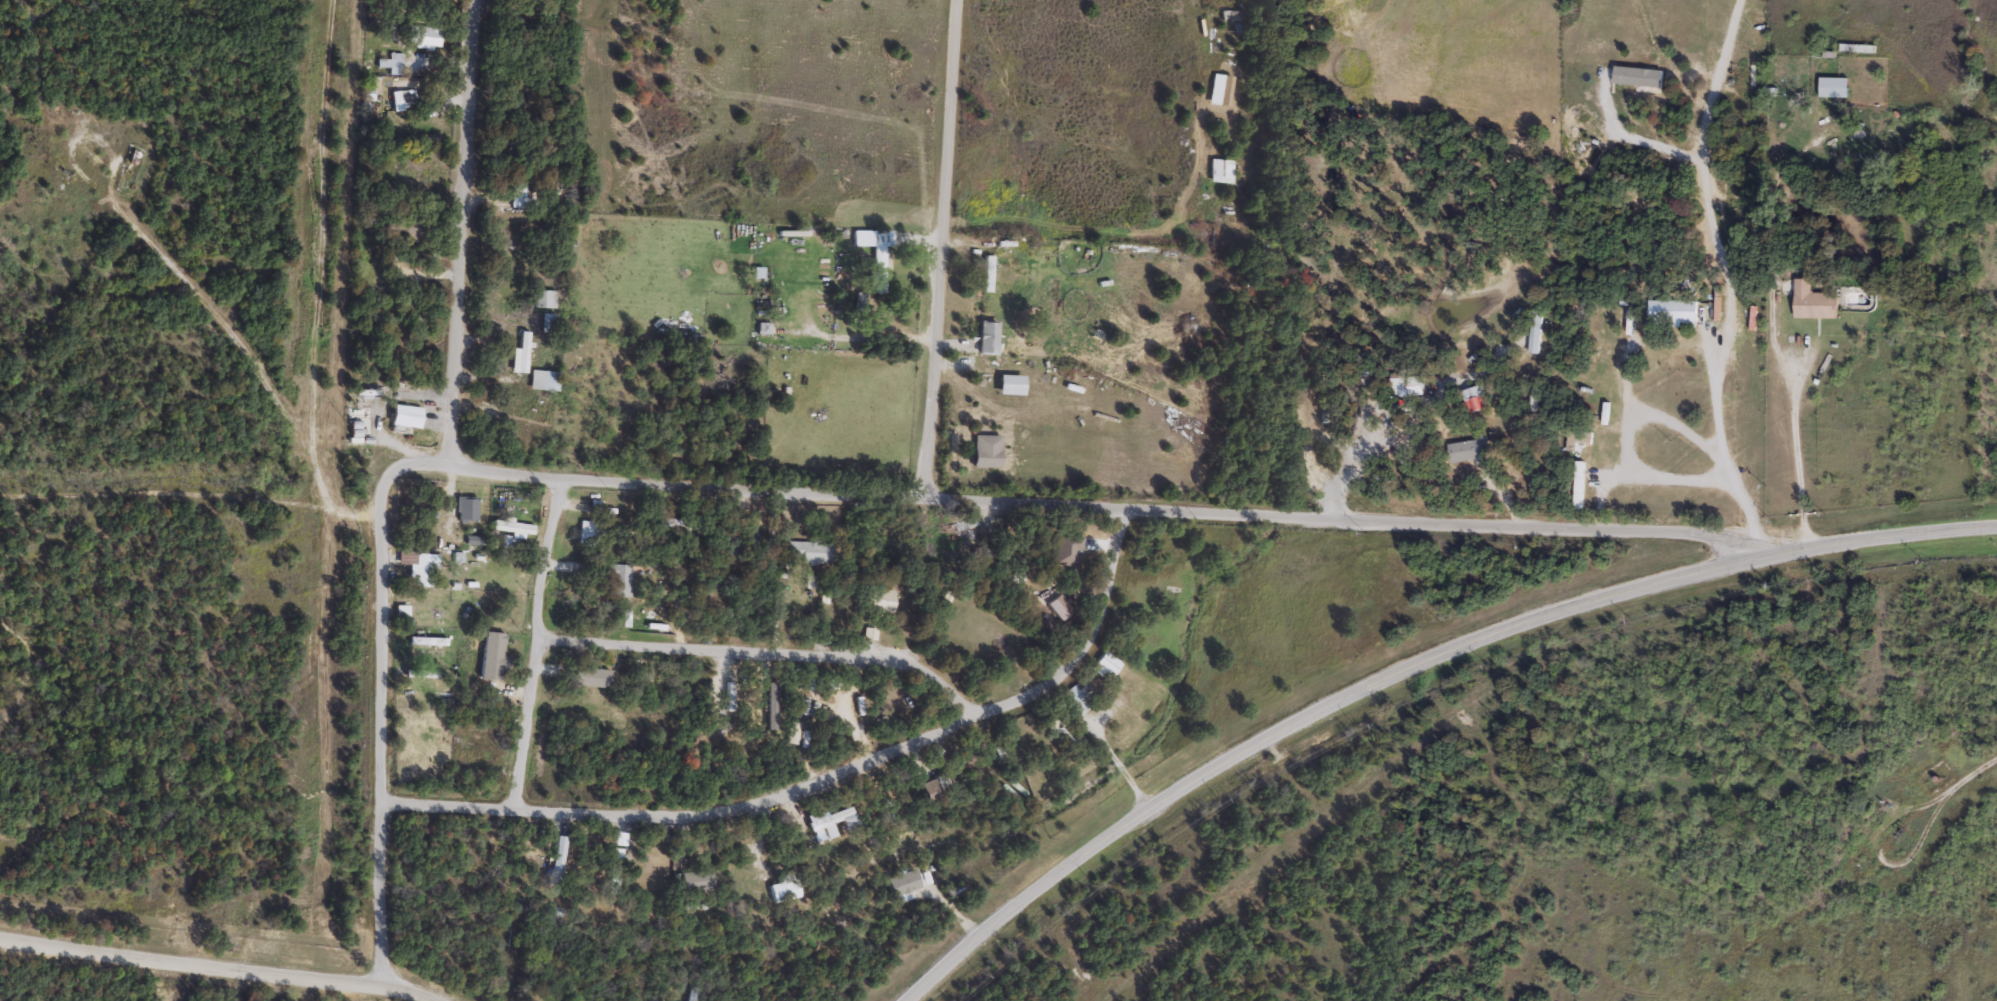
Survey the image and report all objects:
building: (1233, 13)
road: (34, 17)
building: (427, 36)
building: (390, 63)
building: (1834, 86)
building: (1220, 88)
building: (519, 184)
road: (456, 228)
road: (938, 248)
building: (880, 255)
building: (757, 272)
building: (987, 272)
building: (545, 297)
building: (1815, 300)
building: (1674, 310)
building: (548, 321)
building: (763, 327)
building: (988, 336)
building: (521, 353)
building: (545, 379)
building: (1480, 402)
building: (1472, 450)
building: (988, 451)
road: (1797, 456)
park: (150, 485)
building: (1579, 485)
road: (999, 501)
building: (595, 506)
building: (467, 507)
road: (137, 508)
building: (515, 526)
building: (589, 532)
building: (474, 539)
building: (742, 541)
building: (513, 542)
building: (1067, 547)
building: (810, 551)
building: (420, 566)
building: (616, 579)
building: (881, 599)
building: (402, 612)
building: (428, 639)
road: (541, 644)
road: (781, 648)
road: (386, 655)
building: (494, 657)
building: (1109, 662)
road: (29, 667)
road: (1411, 669)
building: (424, 672)
building: (592, 677)
building: (1074, 698)
building: (730, 702)
road: (1119, 764)
building: (930, 789)
road: (730, 801)
building: (839, 818)
building: (558, 858)
building: (615, 868)
building: (650, 871)
building: (698, 879)
building: (785, 889)
road: (95, 950)
road: (310, 978)

